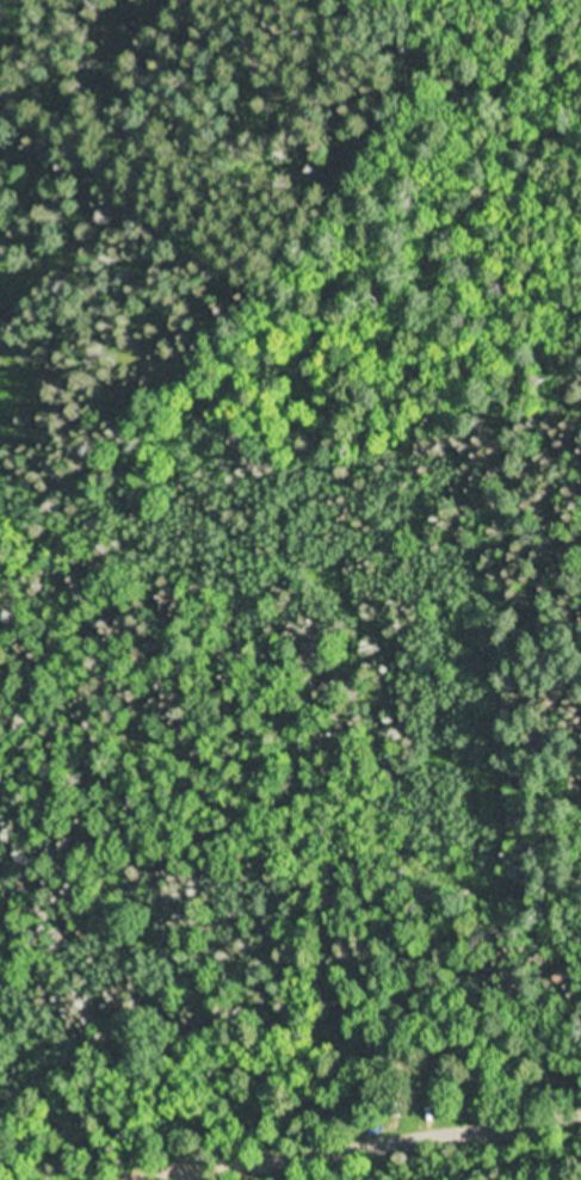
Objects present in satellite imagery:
road: (394, 1138)
road: (159, 1173)
road: (212, 1173)

